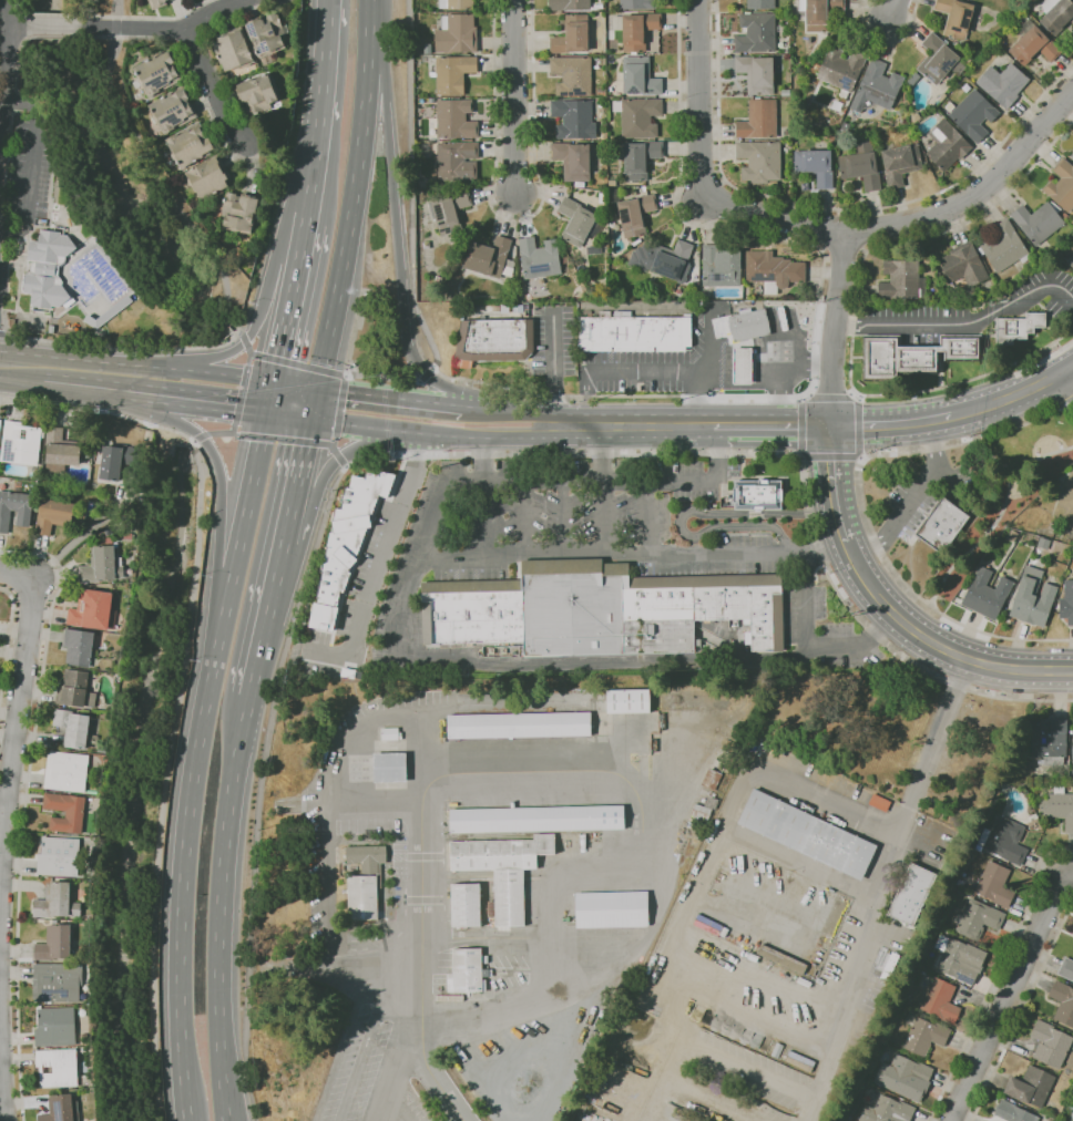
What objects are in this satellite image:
building: (161, 3)
building: (456, 4)
building: (569, 4)
building: (637, 4)
building: (760, 4)
road: (117, 8)
road: (893, 8)
road: (211, 11)
building: (819, 13)
building: (1056, 14)
building: (956, 17)
road: (16, 25)
road: (52, 25)
road: (115, 27)
road: (132, 28)
building: (636, 29)
building: (457, 33)
building: (756, 33)
building: (571, 35)
building: (273, 38)
road: (887, 41)
building: (1033, 44)
road: (4, 50)
building: (236, 51)
building: (788, 51)
building: (938, 59)
building: (840, 68)
building: (451, 73)
building: (756, 73)
building: (160, 74)
building: (572, 75)
building: (640, 76)
building: (913, 78)
building: (1003, 83)
road: (217, 84)
building: (877, 88)
building: (601, 92)
building: (785, 92)
building: (260, 95)
road: (514, 96)
building: (942, 97)
road: (319, 106)
building: (177, 112)
building: (973, 114)
building: (640, 117)
building: (914, 117)
building: (454, 119)
building: (574, 119)
building: (758, 120)
building: (913, 138)
building: (947, 144)
building: (197, 146)
building: (1072, 155)
building: (637, 158)
building: (573, 160)
building: (457, 161)
building: (759, 161)
building: (900, 163)
road: (33, 164)
building: (861, 165)
building: (816, 166)
parking lot: (31, 167)
building: (216, 179)
building: (612, 183)
building: (579, 184)
building: (1062, 185)
road: (163, 189)
road: (354, 195)
building: (614, 195)
park: (108, 204)
road: (832, 209)
building: (450, 210)
building: (635, 214)
building: (246, 215)
building: (1064, 216)
road: (514, 220)
building: (575, 222)
building: (1038, 222)
road: (811, 226)
road: (827, 229)
road: (860, 229)
road: (396, 234)
road: (300, 236)
building: (636, 241)
building: (1003, 247)
road: (842, 250)
building: (1056, 253)
building: (488, 257)
building: (539, 258)
building: (461, 260)
building: (663, 260)
building: (1071, 261)
building: (963, 265)
building: (721, 267)
building: (773, 269)
building: (51, 271)
building: (901, 280)
building: (870, 296)
building: (470, 306)
road: (855, 311)
building: (527, 312)
building: (110, 315)
road: (257, 317)
road: (284, 319)
road: (973, 321)
building: (748, 325)
road: (844, 325)
building: (1018, 327)
road: (834, 328)
road: (4, 331)
building: (633, 332)
road: (244, 339)
road: (709, 339)
building: (493, 340)
road: (224, 341)
road: (96, 347)
road: (196, 347)
road: (783, 348)
building: (941, 348)
building: (961, 348)
road: (252, 352)
road: (248, 354)
building: (897, 359)
road: (298, 364)
road: (349, 364)
road: (194, 366)
building: (743, 366)
gas station: (743, 366)
road: (708, 368)
road: (24, 369)
road: (553, 369)
road: (193, 370)
road: (1071, 372)
road: (347, 373)
road: (236, 376)
road: (426, 376)
road: (168, 377)
road: (101, 378)
traffic signals: (272, 381)
road: (294, 384)
traffic signals: (317, 388)
road: (161, 392)
road: (851, 392)
road: (808, 393)
road: (239, 394)
road: (1014, 394)
road: (390, 397)
road: (585, 397)
road: (686, 397)
road: (699, 397)
road: (780, 397)
road: (829, 397)
road: (268, 398)
road: (858, 398)
road: (797, 400)
road: (175, 401)
road: (187, 403)
road: (314, 403)
road: (339, 405)
road: (174, 409)
road: (231, 409)
road: (1072, 409)
road: (510, 410)
road: (89, 411)
traffic signals: (266, 414)
road: (288, 416)
road: (941, 418)
traffic signals: (310, 420)
building: (0, 422)
road: (185, 422)
road: (880, 424)
road: (570, 426)
road: (619, 426)
road: (676, 426)
road: (709, 426)
road: (775, 426)
traffic signals: (831, 426)
road: (233, 429)
road: (858, 429)
road: (800, 430)
road: (218, 433)
road: (235, 433)
road: (183, 434)
road: (432, 434)
road: (200, 436)
road: (283, 438)
road: (334, 440)
road: (192, 441)
building: (20, 443)
road: (333, 444)
building: (60, 450)
road: (346, 451)
building: (88, 453)
road: (303, 453)
road: (336, 453)
road: (444, 454)
road: (829, 457)
road: (860, 459)
road: (340, 460)
building: (116, 461)
road: (345, 465)
building: (96, 487)
road: (602, 487)
road: (830, 488)
park: (1004, 488)
building: (758, 494)
road: (483, 496)
road: (912, 500)
building: (1063, 501)
building: (13, 507)
road: (219, 507)
road: (863, 507)
building: (969, 510)
road: (685, 513)
road: (290, 514)
road: (563, 514)
building: (57, 515)
road: (524, 515)
road: (650, 517)
road: (998, 517)
building: (941, 525)
building: (1052, 526)
building: (108, 529)
road: (79, 536)
building: (129, 536)
building: (1012, 536)
building: (1043, 543)
building: (346, 544)
road: (386, 544)
road: (632, 552)
building: (102, 564)
building: (985, 594)
building: (1032, 598)
building: (1066, 603)
building: (599, 609)
building: (93, 610)
road: (399, 611)
road: (267, 618)
road: (8, 644)
road: (939, 646)
building: (78, 647)
road: (809, 648)
building: (74, 689)
building: (627, 700)
road: (18, 719)
building: (519, 724)
building: (72, 728)
building: (390, 733)
building: (1046, 743)
building: (1072, 743)
building: (101, 750)
road: (193, 764)
building: (389, 768)
building: (65, 772)
road: (166, 780)
building: (712, 781)
road: (376, 802)
road: (737, 802)
building: (452, 804)
building: (1060, 806)
road: (25, 809)
building: (704, 809)
building: (65, 811)
building: (536, 819)
road: (421, 827)
building: (807, 833)
building: (1002, 840)
road: (643, 853)
building: (59, 856)
building: (344, 867)
building: (503, 871)
road: (643, 873)
road: (882, 877)
building: (364, 883)
building: (995, 885)
building: (911, 894)
building: (57, 902)
road: (329, 905)
building: (466, 905)
road: (218, 907)
building: (611, 909)
building: (978, 919)
building: (724, 923)
road: (511, 937)
building: (57, 944)
building: (749, 945)
building: (781, 958)
building: (959, 959)
building: (1066, 969)
building: (467, 970)
road: (995, 975)
building: (57, 984)
road: (1008, 993)
building: (448, 998)
building: (941, 1001)
building: (1063, 1001)
road: (1021, 1012)
building: (54, 1027)
road: (433, 1027)
building: (923, 1036)
road: (341, 1040)
building: (1050, 1043)
road: (364, 1046)
road: (713, 1053)
building: (57, 1067)
road: (2, 1070)
building: (903, 1077)
building: (1030, 1086)
building: (59, 1109)
building: (887, 1110)
road: (813, 1111)
building: (1013, 1112)
building: (1072, 1120)

